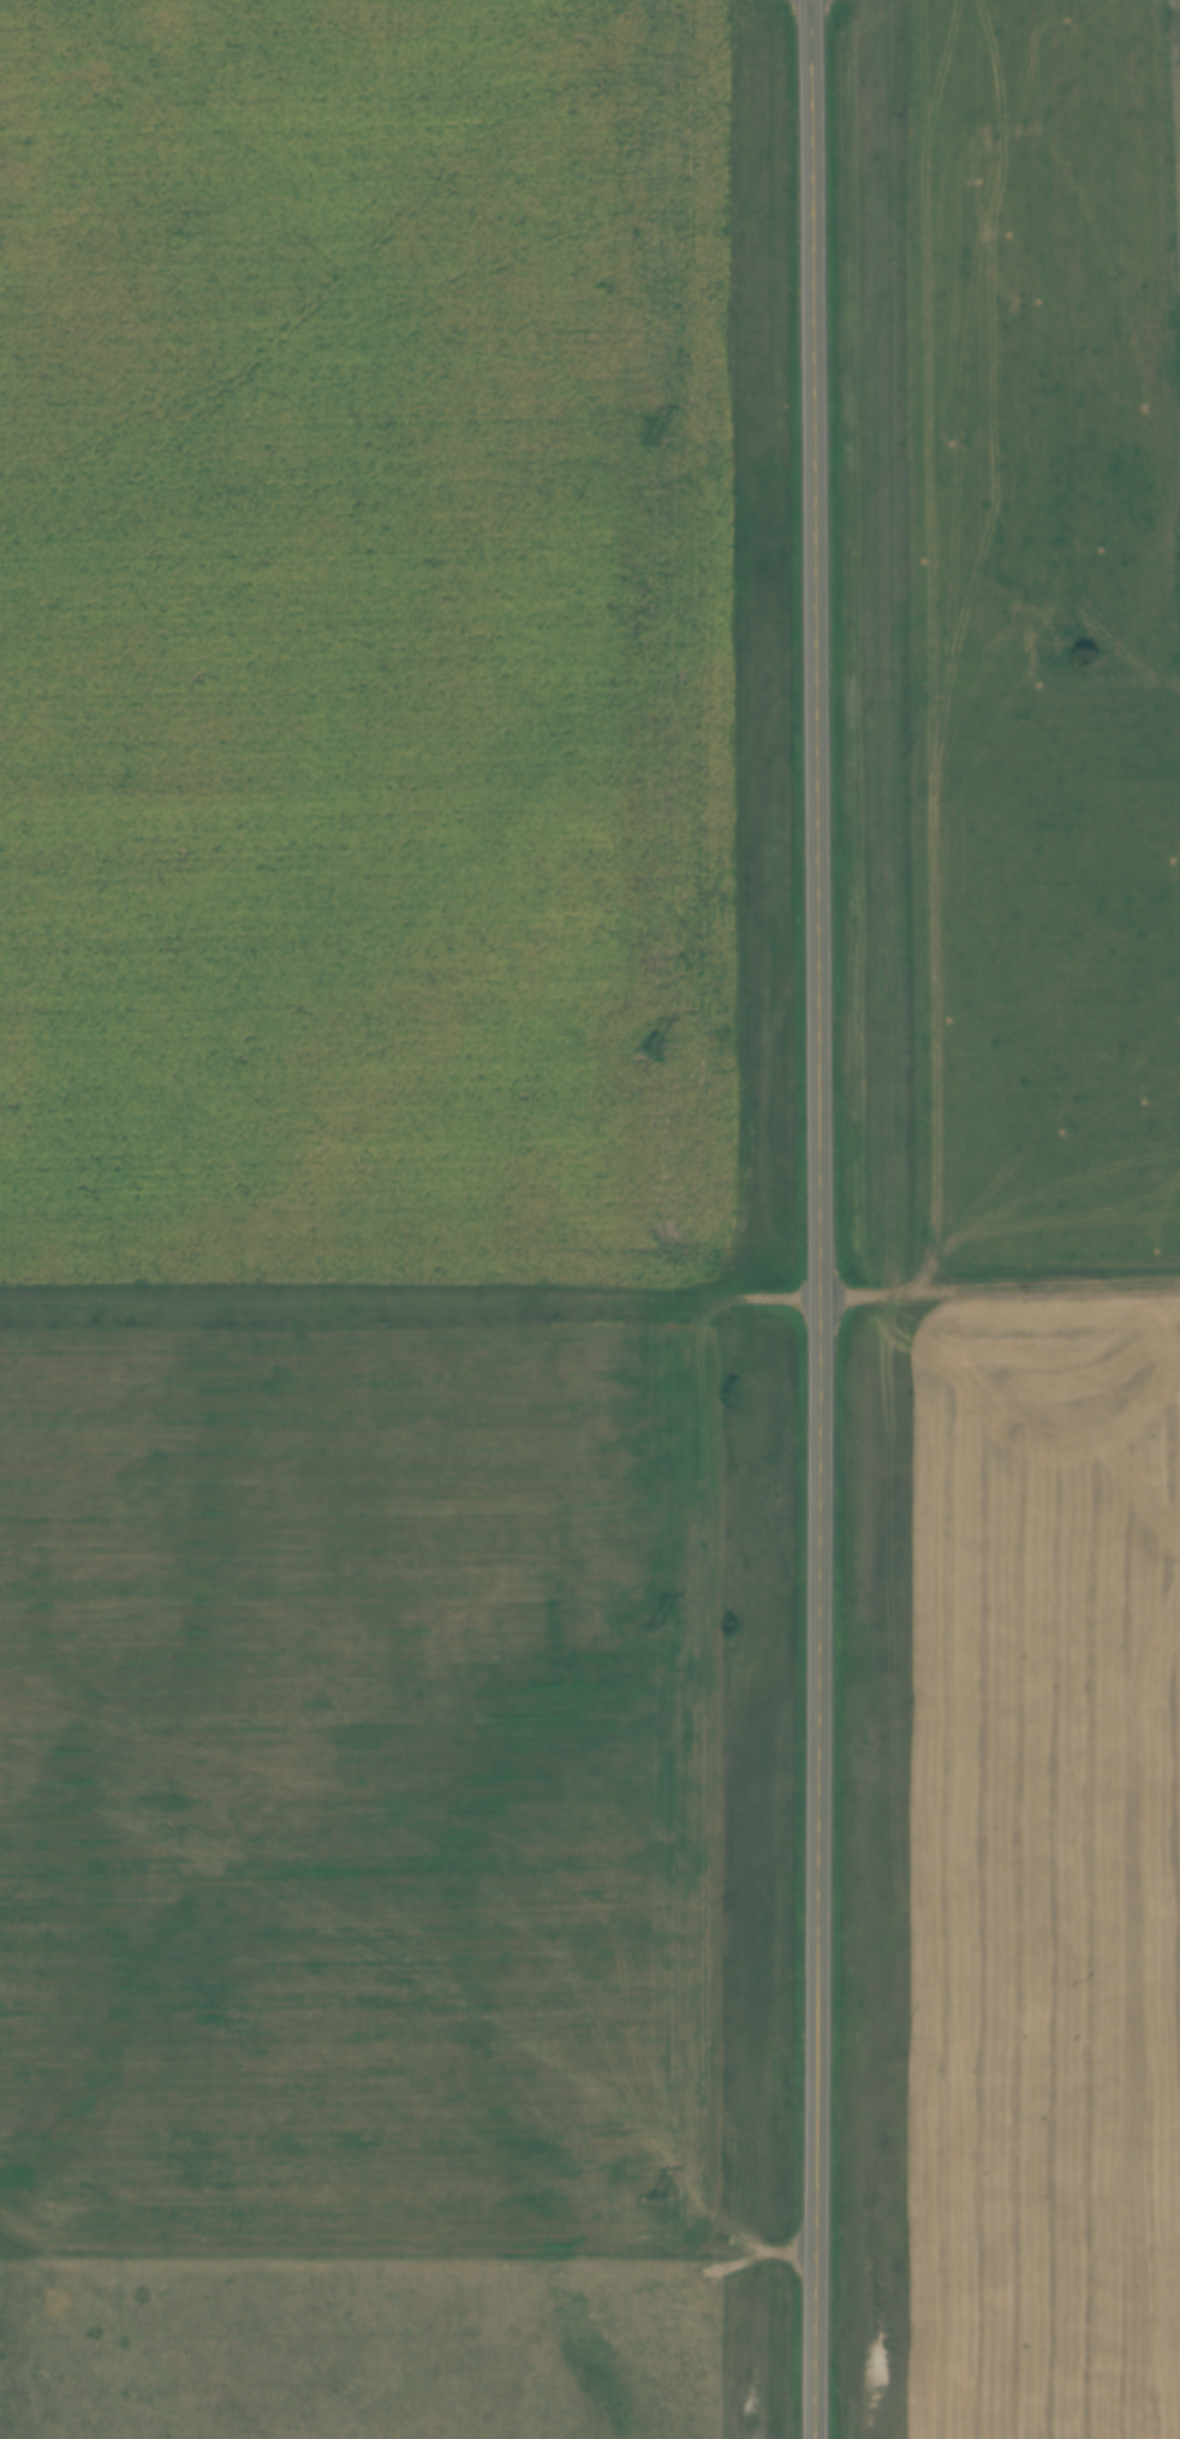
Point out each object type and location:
road: (821, 1219)
road: (589, 1302)

